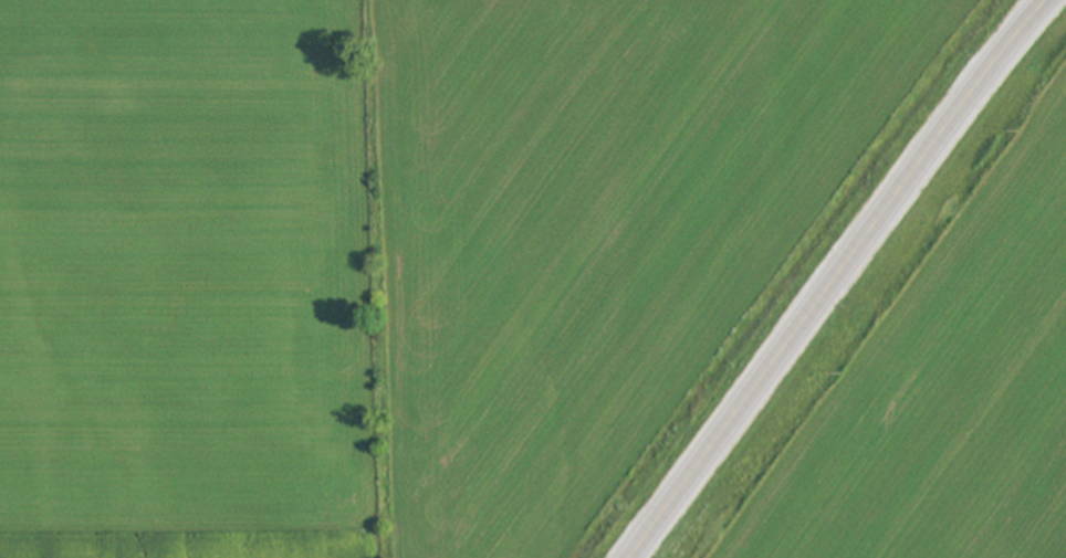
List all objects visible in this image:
road: (832, 276)

